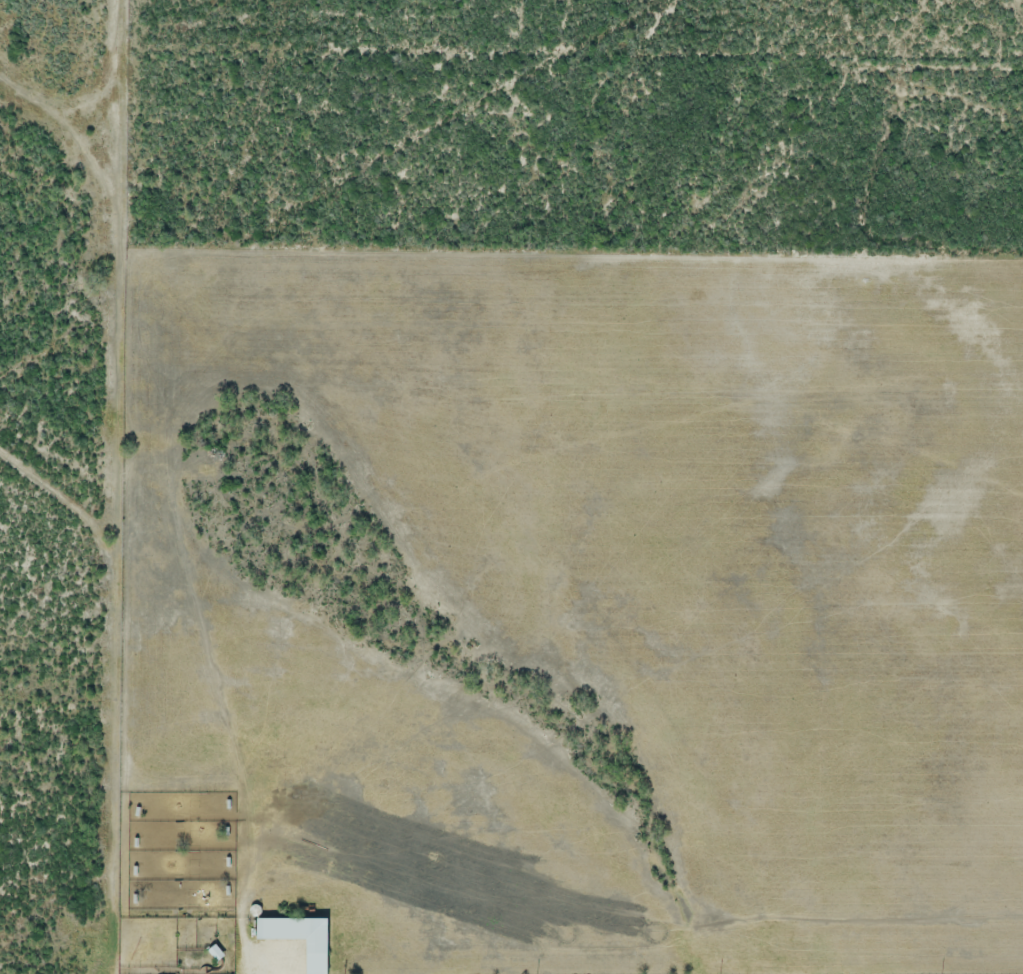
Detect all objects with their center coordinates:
building: (295, 939)

